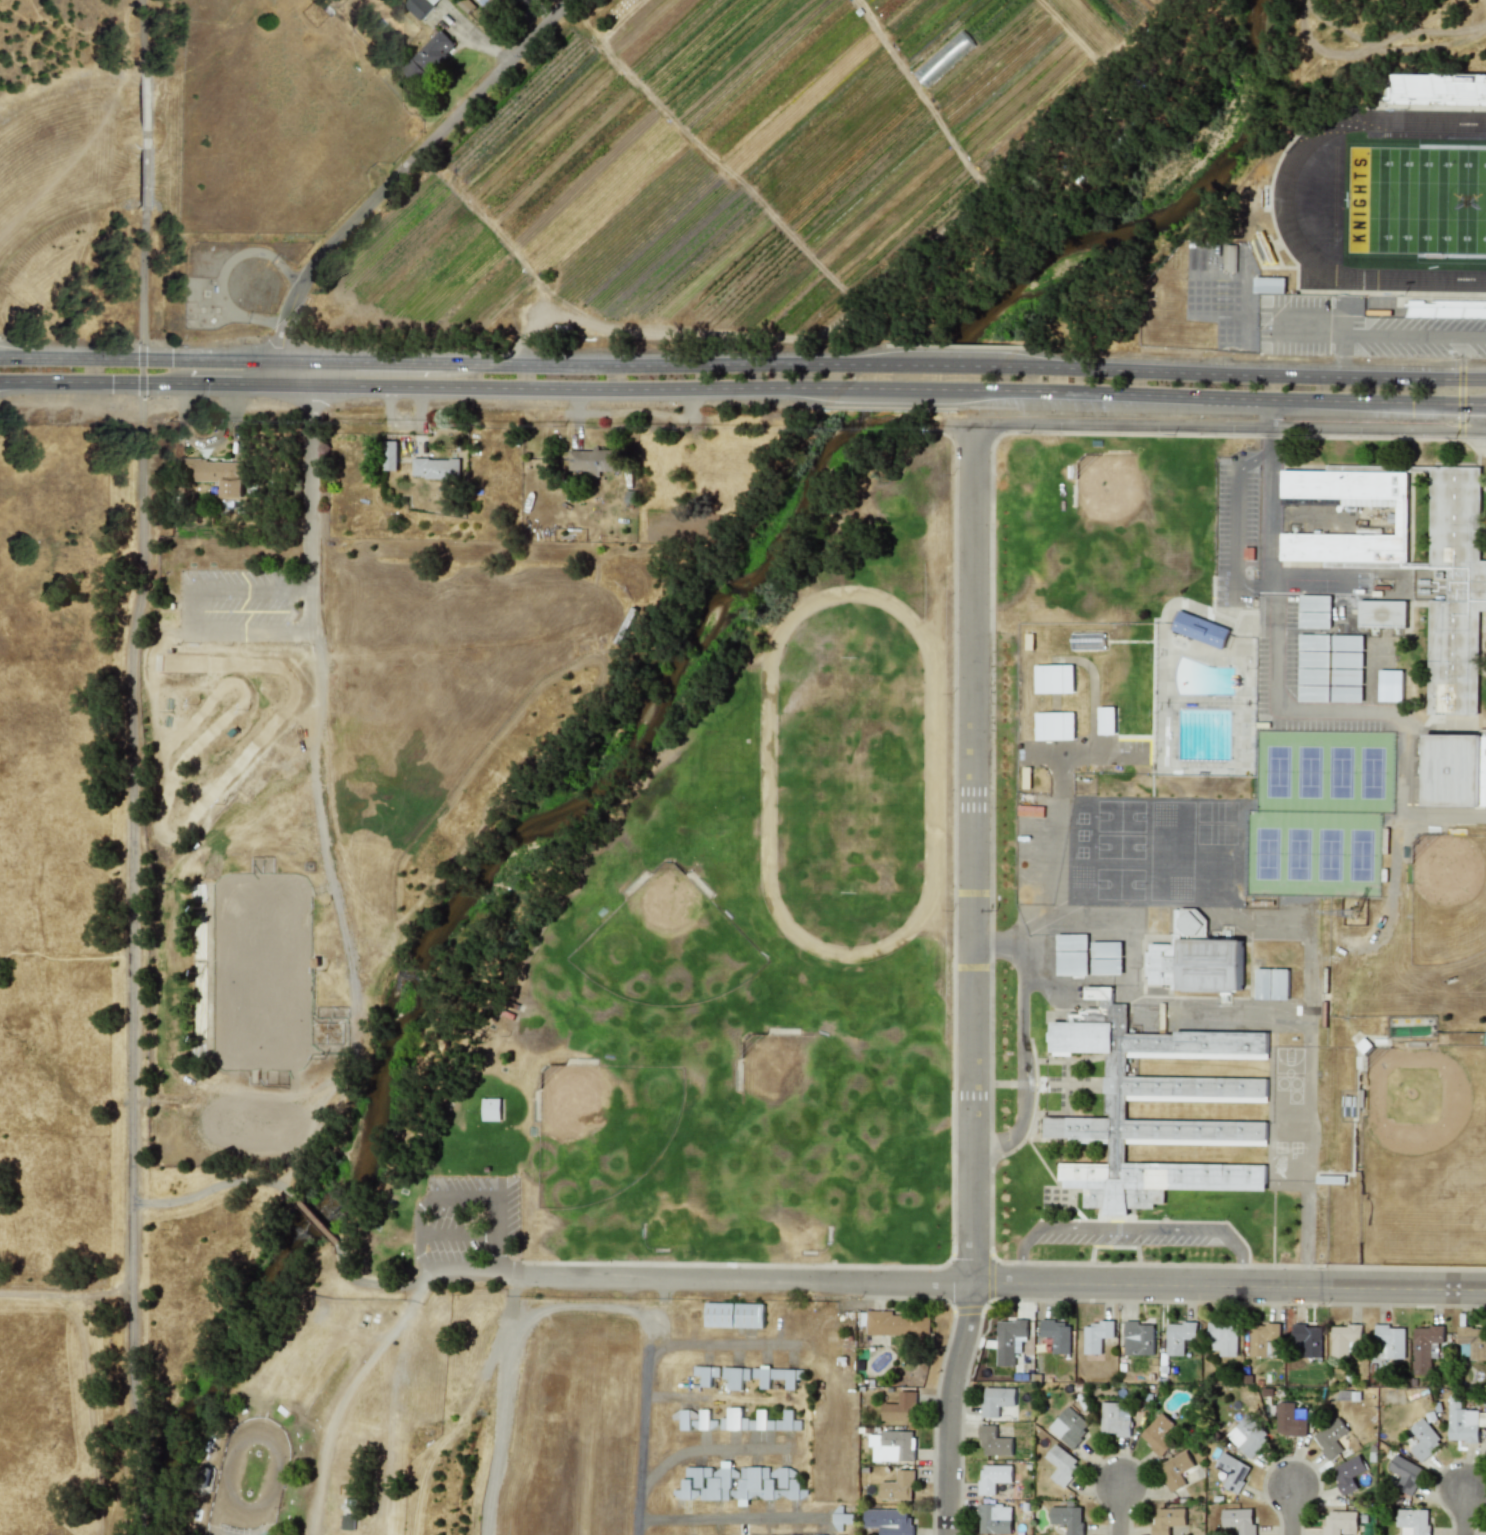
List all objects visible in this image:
building: (419, 6)
building: (428, 57)
building: (1435, 89)
road: (400, 169)
road: (140, 190)
track: (1395, 200)
park: (1416, 200)
track: (1386, 201)
track: (1281, 204)
building: (1228, 257)
building: (1268, 285)
road: (1315, 328)
road: (1392, 335)
road: (1459, 357)
traffic signals: (141, 360)
road: (146, 360)
road: (366, 362)
road: (655, 365)
road: (932, 365)
road: (301, 373)
road: (1240, 373)
traffic signals: (1459, 378)
road: (91, 380)
traffic signals: (141, 381)
road: (246, 383)
road: (910, 388)
road: (578, 389)
road: (1229, 397)
road: (1459, 403)
traffic signals: (1459, 404)
road: (637, 411)
road: (1268, 412)
road: (1212, 425)
road: (576, 427)
building: (388, 455)
building: (594, 459)
building: (435, 468)
building: (217, 474)
crop: (451, 548)
road: (1311, 572)
building: (1449, 579)
road: (1266, 581)
building: (1314, 602)
road: (192, 609)
building: (1381, 613)
building: (1314, 619)
building: (1200, 629)
building: (1314, 642)
building: (1347, 643)
building: (1314, 659)
building: (1347, 659)
building: (1313, 676)
building: (1346, 676)
building: (1053, 678)
building: (1389, 685)
building: (1313, 693)
building: (1346, 693)
road: (1278, 700)
building: (1106, 720)
road: (320, 722)
building: (1053, 725)
road: (950, 762)
track: (851, 770)
building: (1455, 770)
road: (1404, 797)
road: (945, 799)
road: (1268, 928)
building: (1071, 941)
park: (734, 944)
building: (1105, 949)
road: (129, 957)
building: (1194, 958)
building: (1071, 962)
building: (1106, 966)
road: (976, 980)
building: (1262, 983)
building: (1279, 983)
road: (1241, 1010)
road: (1018, 1038)
building: (1185, 1089)
building: (491, 1109)
park: (1425, 1157)
road: (949, 1181)
road: (208, 1192)
road: (312, 1219)
road: (1130, 1228)
road: (1000, 1276)
road: (419, 1277)
road: (514, 1285)
road: (65, 1294)
building: (734, 1315)
building: (896, 1323)
building: (1056, 1334)
building: (1095, 1335)
building: (1178, 1336)
building: (1137, 1338)
building: (1222, 1338)
building: (1308, 1338)
building: (1263, 1339)
building: (1344, 1339)
building: (1009, 1340)
building: (1473, 1340)
building: (1390, 1341)
building: (1425, 1346)
airport taxiway: (646, 1370)
building: (705, 1374)
building: (735, 1376)
building: (774, 1377)
building: (996, 1400)
building: (899, 1407)
road: (504, 1415)
building: (1115, 1418)
building: (694, 1419)
building: (1290, 1419)
building: (745, 1421)
building: (1463, 1421)
building: (787, 1422)
building: (1069, 1426)
building: (1157, 1433)
building: (1247, 1435)
building: (1330, 1438)
building: (1421, 1439)
building: (993, 1441)
building: (1485, 1441)
building: (896, 1445)
airport taxiway: (703, 1446)
building: (1061, 1463)
building: (1175, 1470)
building: (1232, 1471)
building: (1405, 1472)
building: (1347, 1473)
building: (993, 1477)
building: (711, 1482)
building: (786, 1483)
building: (754, 1484)
building: (898, 1486)
building: (683, 1490)
road: (1121, 1507)
road: (1293, 1509)
road: (1467, 1510)
building: (994, 1518)
building: (1067, 1518)
airport taxiway: (731, 1519)
building: (842, 1519)
building: (1166, 1519)
building: (1239, 1519)
building: (889, 1520)
building: (1413, 1521)
building: (1339, 1522)
building: (820, 1532)
building: (267, 1533)

